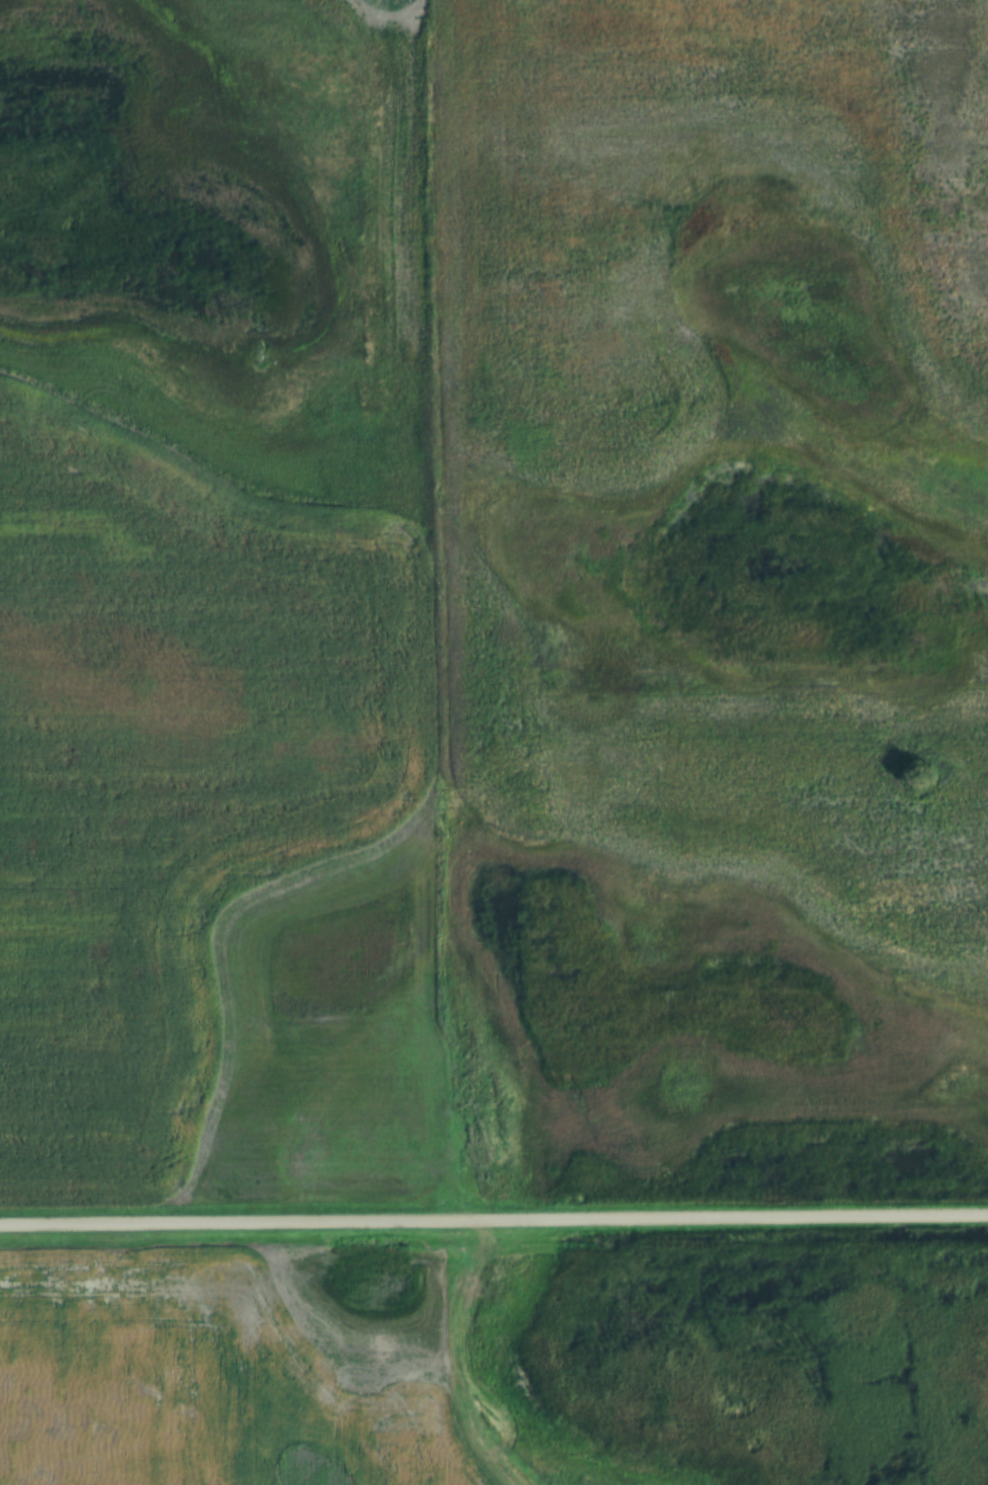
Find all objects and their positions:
road: (494, 1223)

